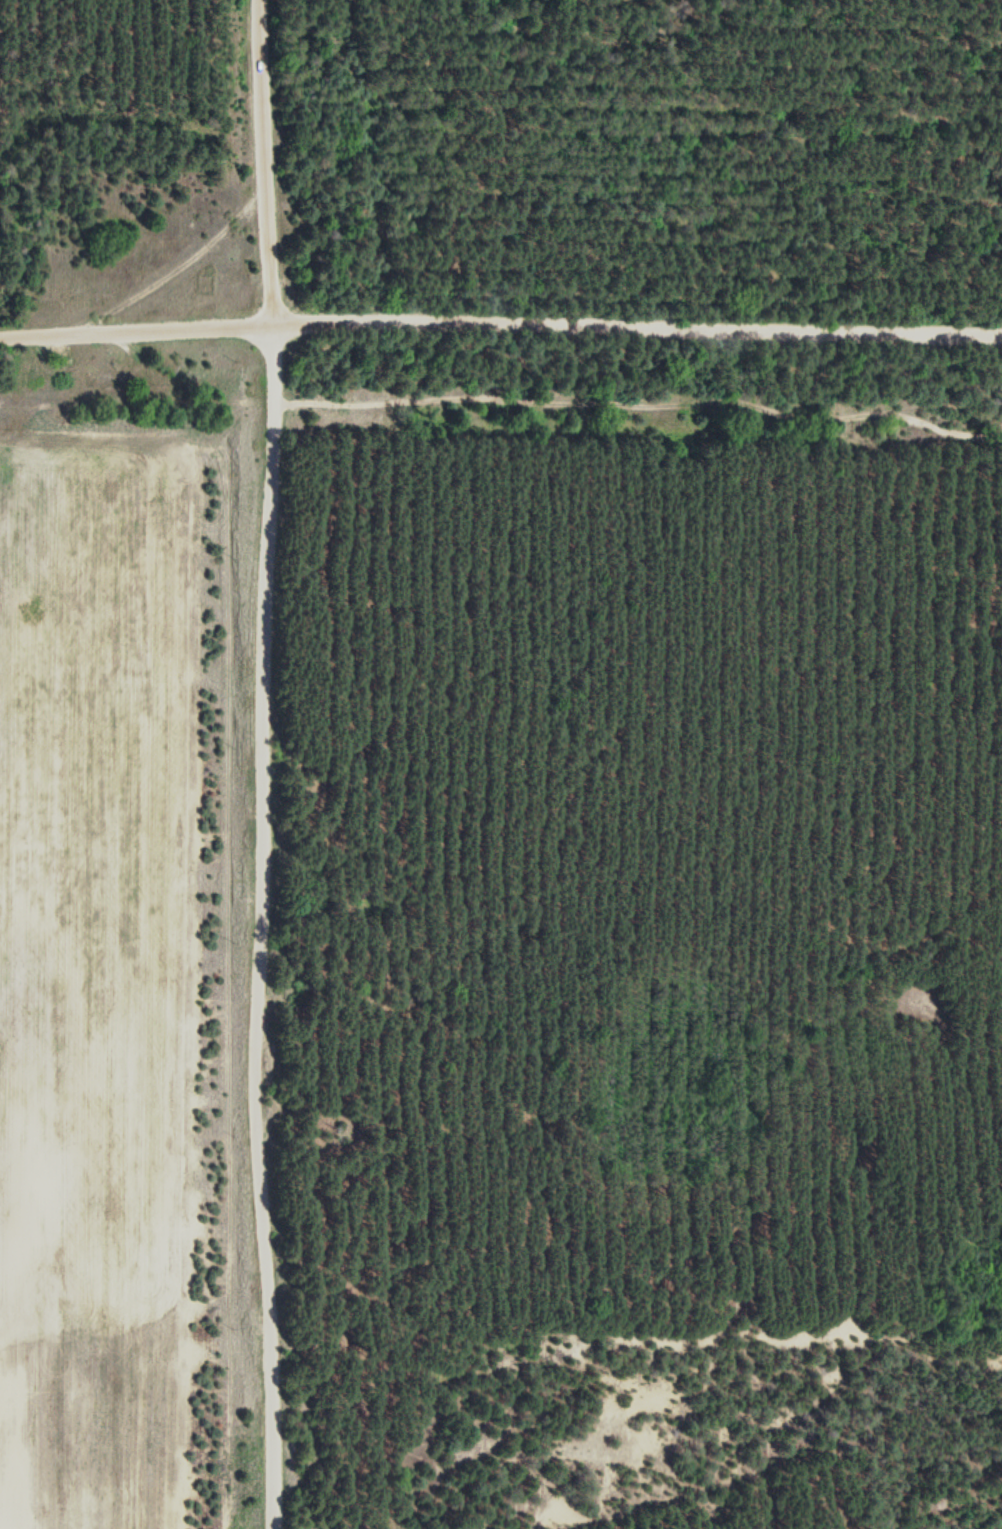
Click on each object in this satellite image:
road: (178, 268)
road: (500, 323)
road: (273, 764)

